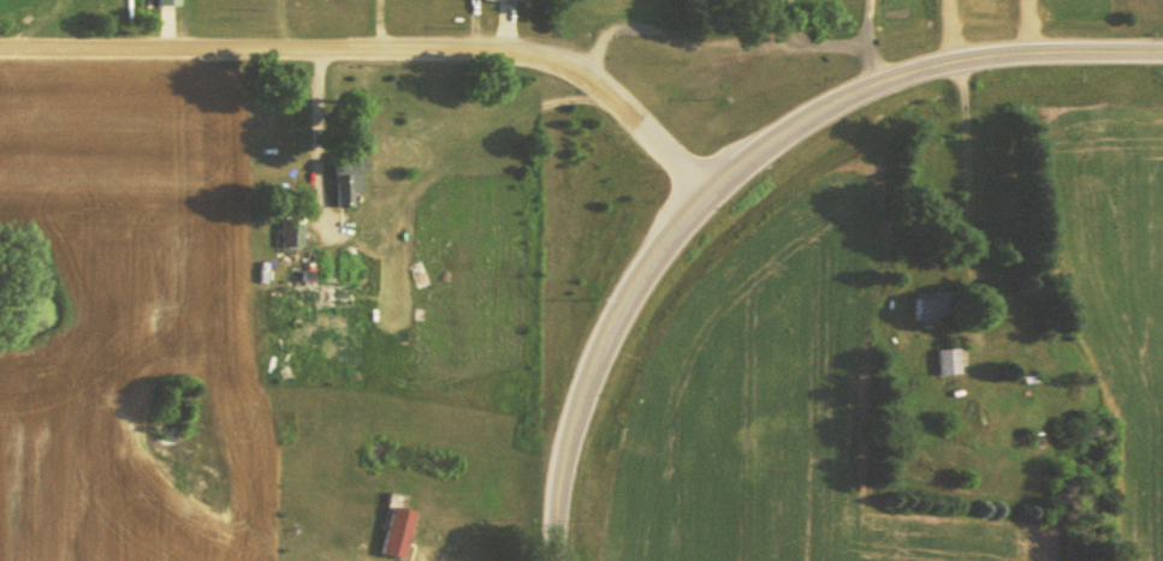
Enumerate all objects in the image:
building: (167, 0)
road: (379, 55)
road: (918, 68)
building: (348, 177)
building: (290, 229)
building: (321, 291)
building: (933, 303)
road: (589, 358)
building: (947, 359)
building: (397, 530)

